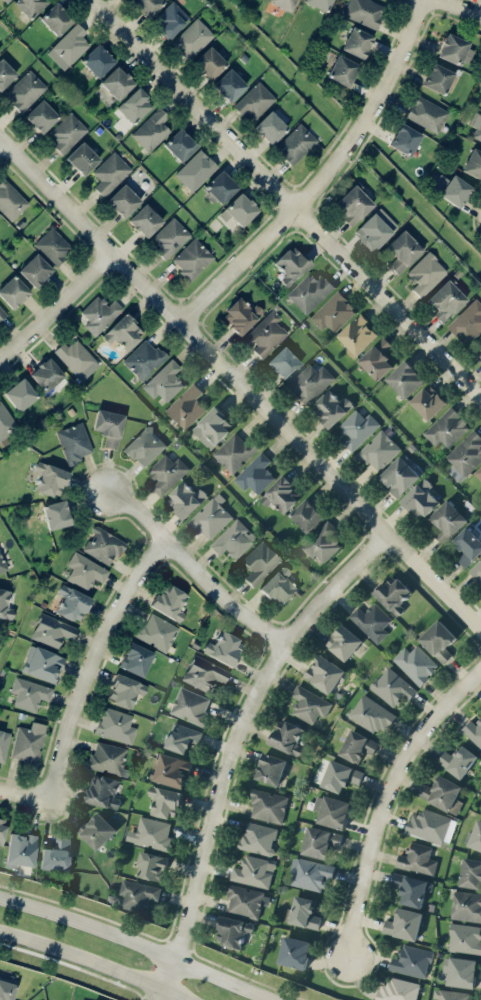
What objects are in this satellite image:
building: (5, 0)
building: (285, 4)
building: (319, 4)
building: (30, 6)
building: (147, 6)
road: (459, 7)
building: (364, 12)
building: (56, 18)
building: (170, 19)
building: (192, 38)
building: (357, 42)
building: (69, 46)
building: (456, 50)
building: (97, 60)
building: (209, 63)
building: (342, 70)
building: (5, 73)
building: (437, 78)
building: (117, 82)
building: (229, 85)
building: (25, 91)
building: (254, 101)
building: (135, 105)
building: (427, 114)
building: (41, 116)
building: (476, 125)
building: (270, 127)
building: (151, 130)
building: (66, 132)
building: (405, 139)
road: (0, 140)
building: (180, 144)
building: (295, 144)
building: (82, 158)
building: (473, 163)
building: (196, 170)
building: (110, 173)
road: (323, 175)
building: (221, 187)
building: (451, 189)
road: (287, 198)
building: (10, 200)
building: (123, 200)
building: (352, 205)
building: (239, 210)
building: (145, 220)
building: (376, 228)
building: (169, 237)
building: (53, 246)
building: (402, 250)
building: (192, 259)
building: (292, 265)
building: (35, 270)
building: (426, 273)
building: (13, 291)
building: (311, 291)
building: (445, 300)
road: (57, 307)
building: (333, 312)
building: (2, 313)
building: (98, 314)
building: (241, 315)
building: (468, 322)
building: (123, 332)
building: (265, 334)
building: (358, 335)
building: (478, 347)
building: (75, 356)
building: (377, 358)
building: (143, 359)
building: (283, 362)
building: (46, 374)
building: (405, 378)
building: (165, 381)
road: (241, 381)
building: (310, 382)
building: (20, 394)
building: (428, 401)
building: (187, 406)
building: (333, 407)
building: (6, 422)
building: (108, 426)
building: (212, 427)
building: (446, 427)
building: (357, 428)
building: (74, 442)
building: (145, 446)
building: (379, 450)
building: (235, 451)
building: (466, 455)
building: (167, 472)
building: (479, 472)
building: (255, 473)
building: (399, 475)
building: (50, 478)
building: (282, 494)
building: (186, 498)
building: (420, 498)
building: (56, 514)
building: (307, 515)
building: (211, 516)
building: (447, 520)
building: (233, 539)
building: (322, 542)
building: (103, 545)
building: (468, 545)
building: (259, 562)
building: (2, 564)
road: (197, 569)
building: (476, 569)
building: (85, 571)
building: (279, 587)
building: (393, 593)
building: (169, 601)
building: (72, 603)
building: (5, 605)
building: (372, 621)
building: (52, 630)
building: (156, 632)
building: (438, 640)
building: (344, 641)
building: (224, 648)
building: (136, 659)
road: (96, 662)
building: (416, 663)
building: (41, 664)
building: (204, 673)
building: (326, 673)
building: (392, 687)
building: (125, 690)
building: (29, 693)
building: (309, 704)
building: (191, 705)
building: (371, 714)
building: (115, 725)
road: (252, 727)
building: (474, 731)
building: (183, 737)
building: (287, 737)
building: (28, 743)
road: (229, 743)
building: (3, 744)
building: (358, 745)
building: (107, 757)
building: (458, 760)
building: (271, 768)
building: (170, 769)
building: (340, 775)
building: (103, 791)
road: (386, 792)
road: (23, 793)
building: (442, 794)
building: (165, 801)
building: (268, 805)
building: (332, 810)
building: (431, 825)
building: (95, 829)
building: (2, 830)
building: (151, 833)
building: (476, 836)
building: (258, 837)
building: (320, 841)
building: (20, 850)
building: (56, 855)
building: (417, 859)
building: (151, 866)
building: (254, 871)
building: (310, 873)
building: (471, 873)
building: (411, 888)
building: (138, 894)
building: (246, 900)
building: (466, 905)
building: (304, 912)
building: (404, 923)
building: (233, 930)
building: (465, 938)
road: (137, 945)
building: (294, 951)
building: (412, 960)
road: (91, 962)
building: (462, 971)
building: (7, 989)
building: (398, 990)
building: (451, 994)

